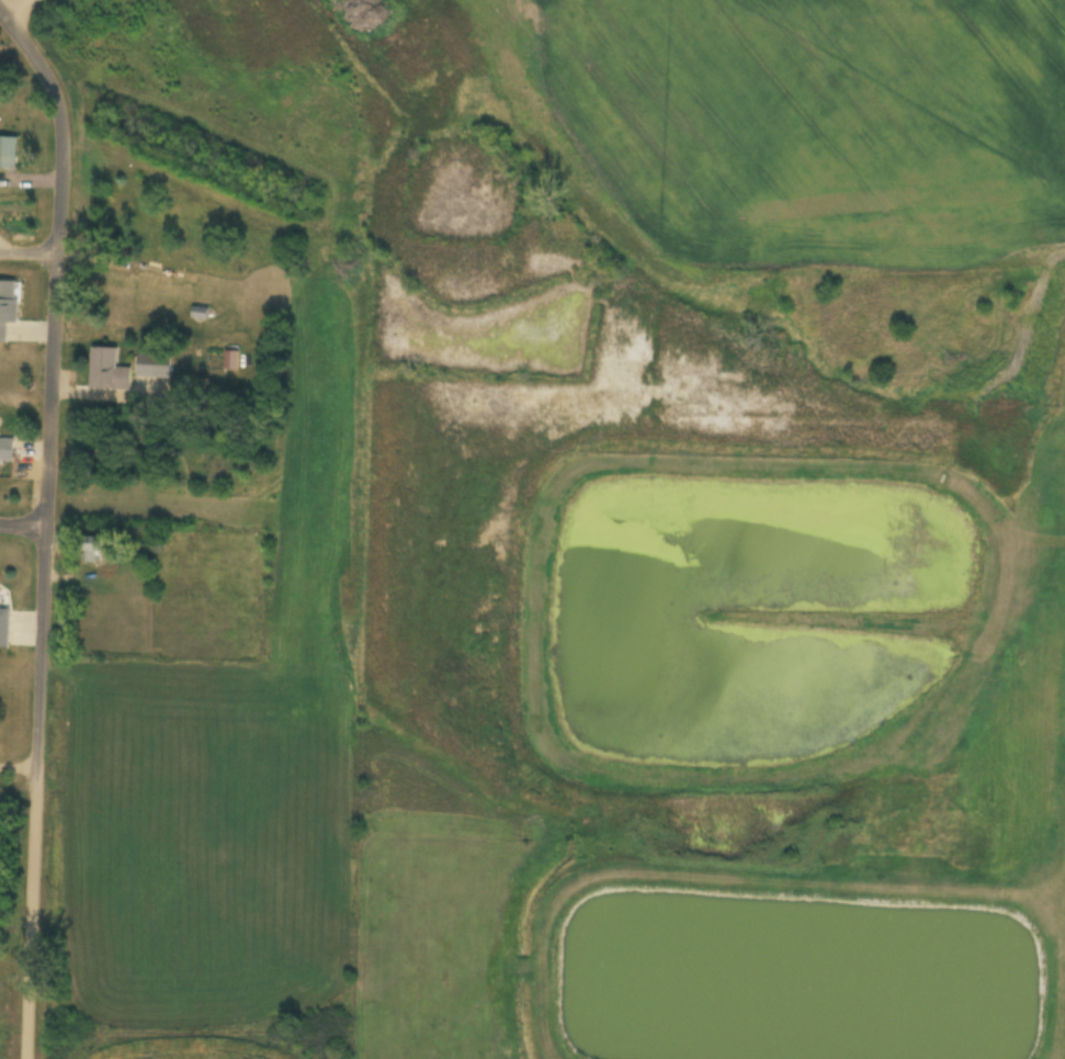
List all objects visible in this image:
road: (16, 11)
road: (59, 129)
building: (8, 154)
road: (27, 258)
building: (7, 306)
building: (154, 365)
building: (106, 371)
building: (5, 451)
road: (44, 518)
road: (22, 529)
building: (89, 551)
building: (3, 628)
road: (31, 919)

